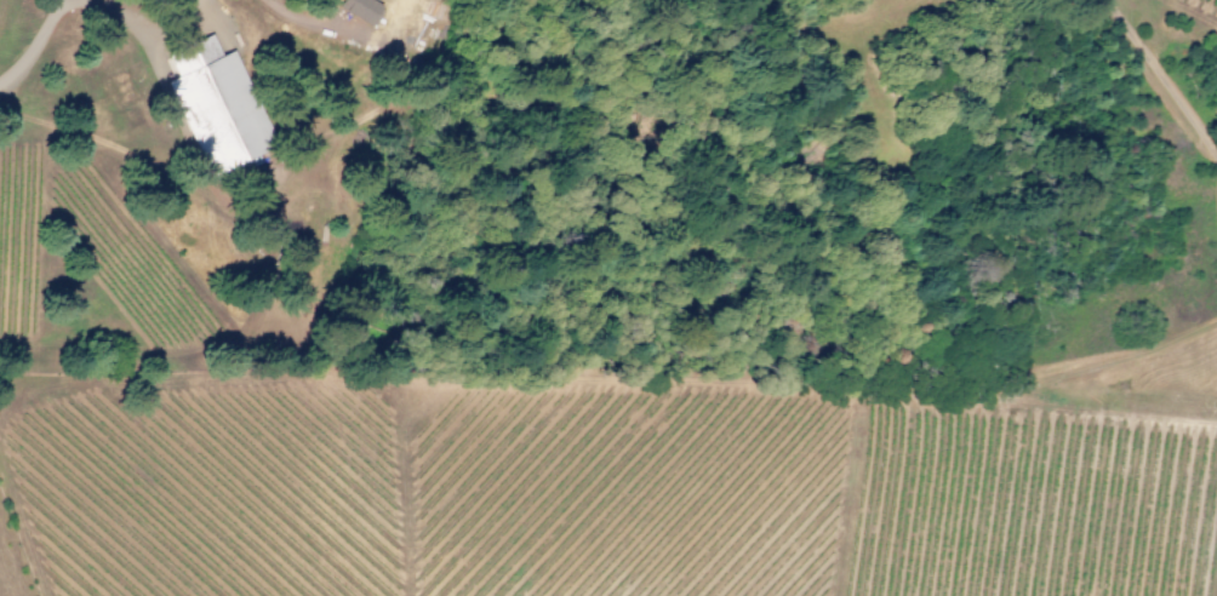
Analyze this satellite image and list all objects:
building: (360, 10)
building: (216, 109)

